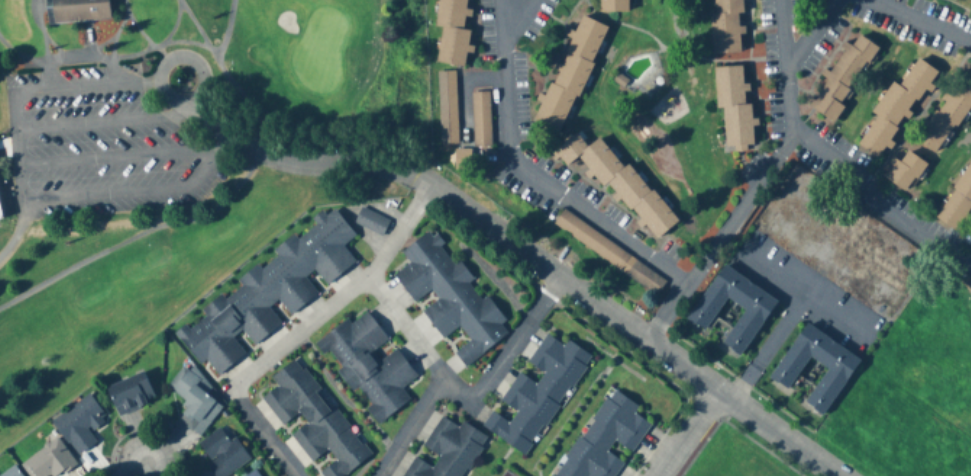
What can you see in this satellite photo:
building: (613, 5)
building: (77, 10)
building: (452, 13)
road: (503, 18)
road: (517, 18)
road: (918, 21)
building: (727, 26)
road: (43, 31)
road: (170, 33)
road: (783, 35)
road: (812, 35)
road: (91, 42)
building: (455, 46)
road: (162, 47)
road: (110, 54)
road: (215, 54)
road: (26, 55)
road: (171, 59)
building: (569, 75)
building: (842, 78)
building: (448, 104)
building: (733, 105)
building: (895, 111)
building: (947, 114)
building: (480, 119)
road: (97, 123)
parking lot: (101, 148)
road: (118, 158)
park: (178, 158)
road: (298, 159)
building: (904, 171)
building: (620, 185)
road: (550, 186)
road: (22, 187)
road: (877, 202)
building: (957, 205)
road: (738, 210)
building: (1, 213)
building: (0, 219)
road: (189, 221)
building: (372, 222)
building: (599, 245)
building: (645, 278)
building: (262, 285)
building: (450, 299)
road: (832, 312)
building: (754, 314)
road: (783, 315)
road: (634, 327)
road: (431, 362)
road: (265, 363)
building: (368, 366)
building: (837, 374)
building: (131, 393)
building: (537, 394)
building: (194, 400)
building: (314, 420)
building: (79, 421)
road: (408, 427)
road: (688, 433)
building: (605, 438)
building: (449, 449)
building: (222, 453)
building: (41, 457)
road: (144, 464)
park: (504, 471)
building: (10, 472)
building: (253, 474)
park: (506, 474)

